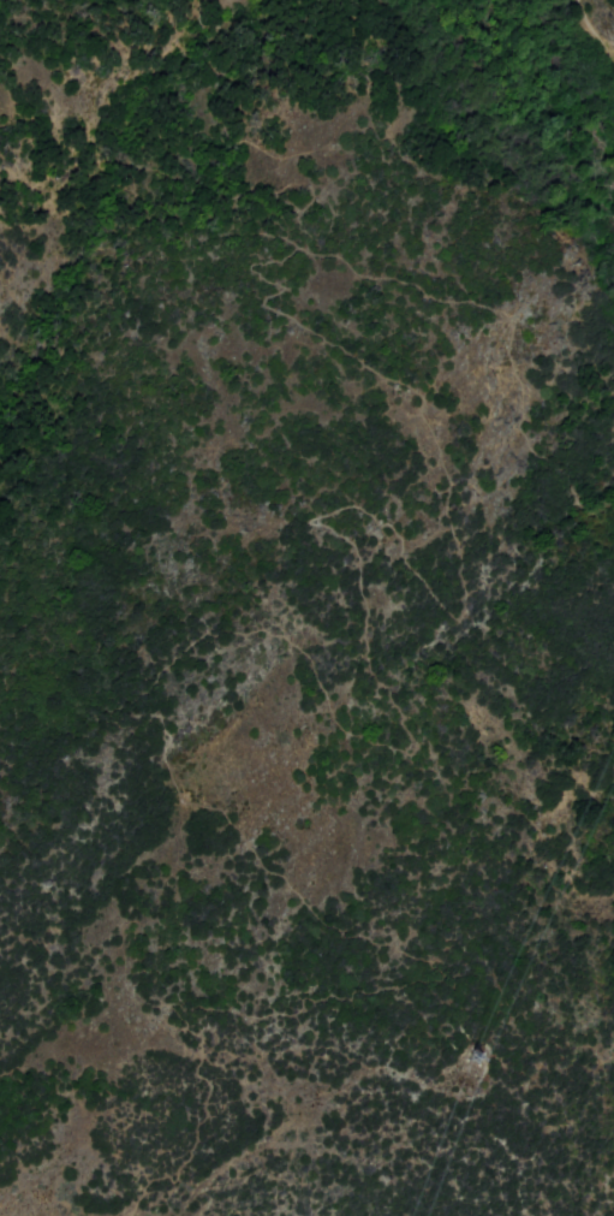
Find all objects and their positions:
road: (398, 0)
road: (596, 31)
road: (280, 239)
road: (287, 640)
power tower: (467, 1076)

